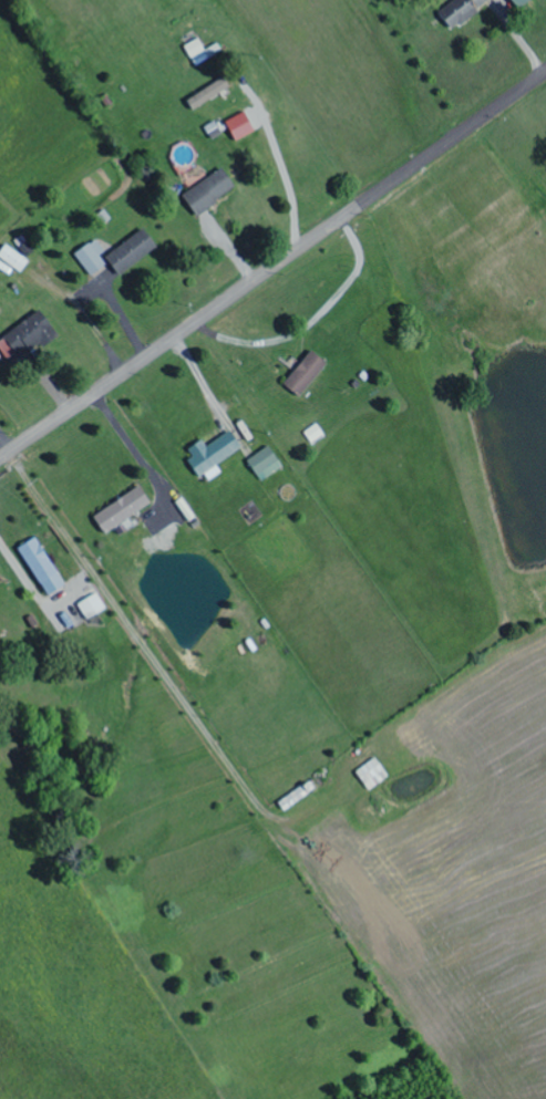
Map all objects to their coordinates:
building: (522, 2)
building: (463, 11)
building: (209, 94)
building: (241, 127)
building: (210, 193)
building: (119, 255)
building: (14, 259)
road: (274, 270)
building: (39, 331)
building: (307, 374)
building: (214, 454)
building: (267, 464)
building: (123, 510)
building: (42, 567)
building: (1, 581)
building: (93, 606)
building: (373, 775)

